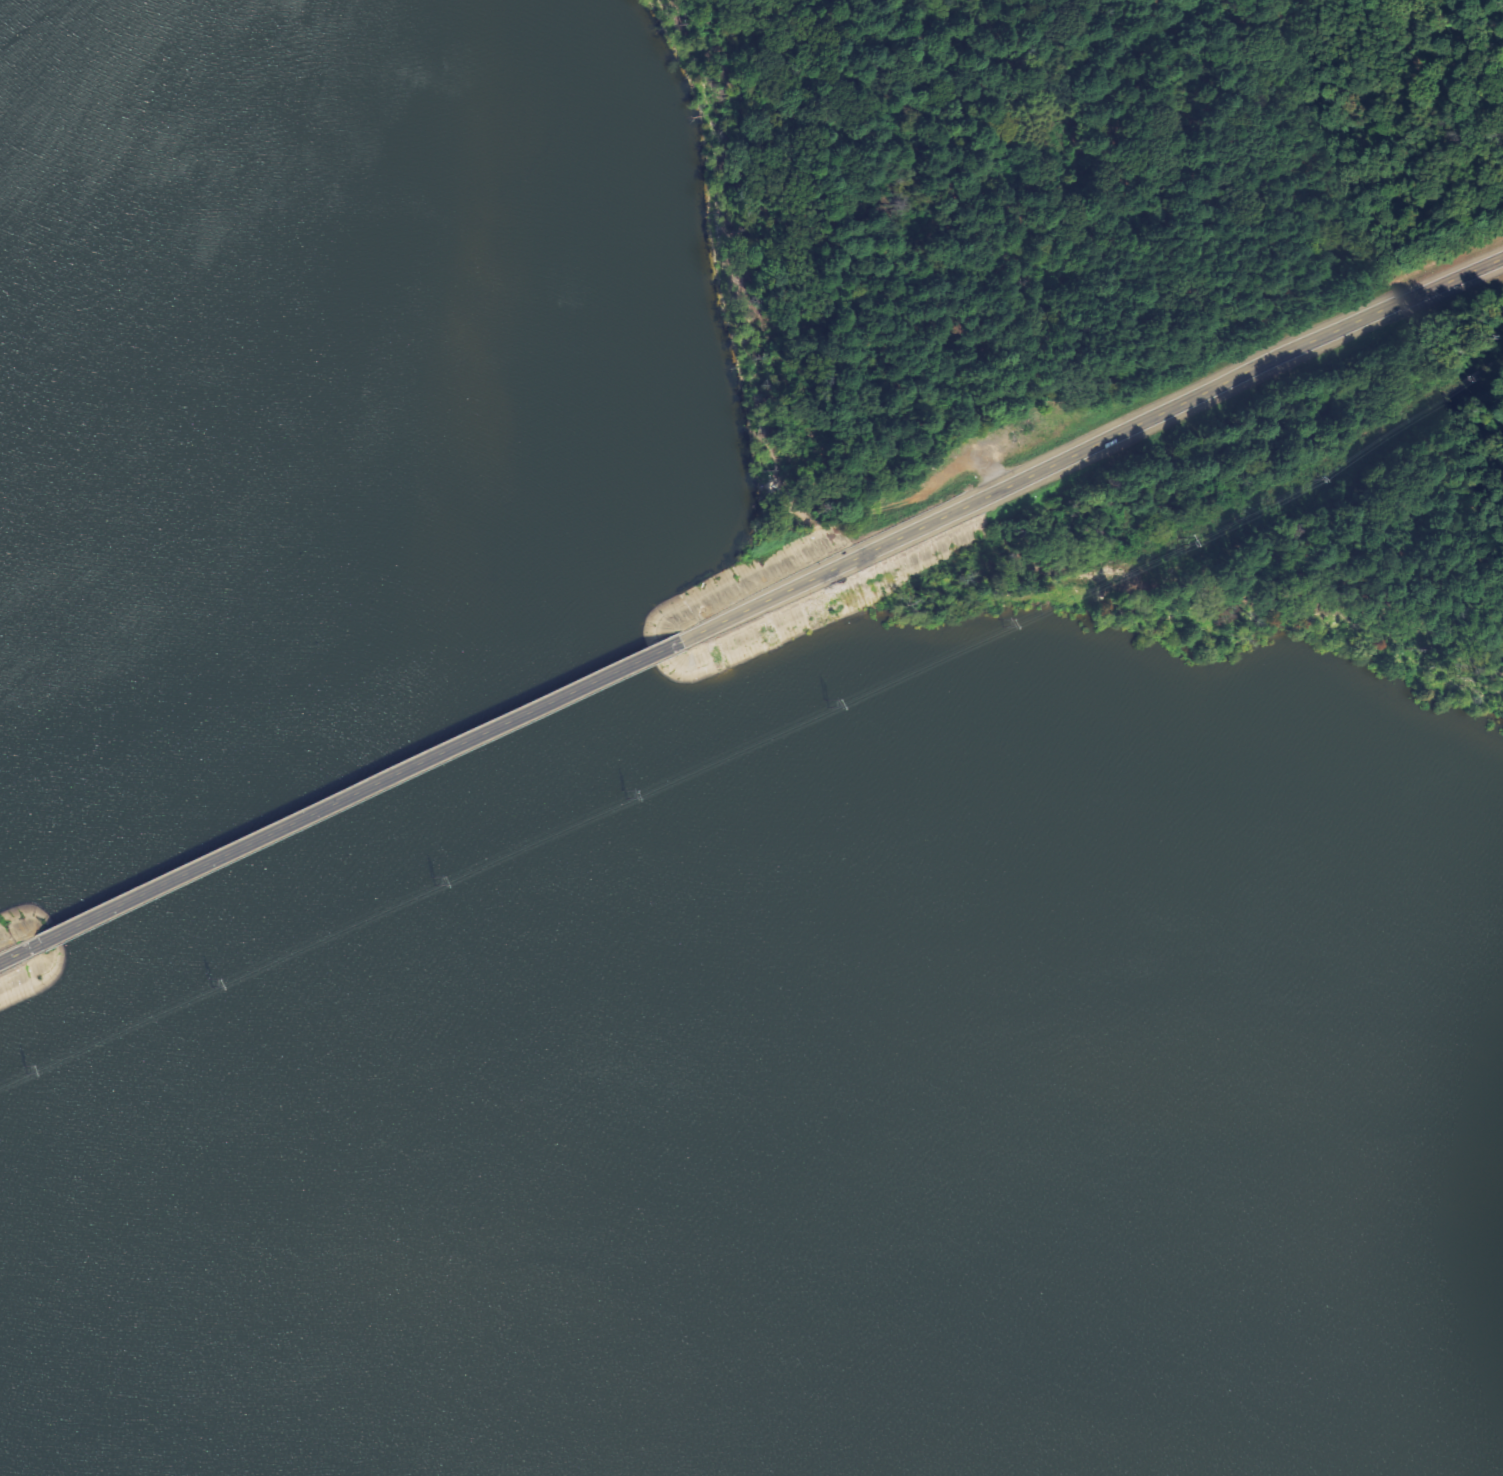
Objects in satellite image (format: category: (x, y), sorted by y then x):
road: (1087, 448)
road: (899, 506)
road: (353, 796)
river: (360, 813)
road: (16, 954)

